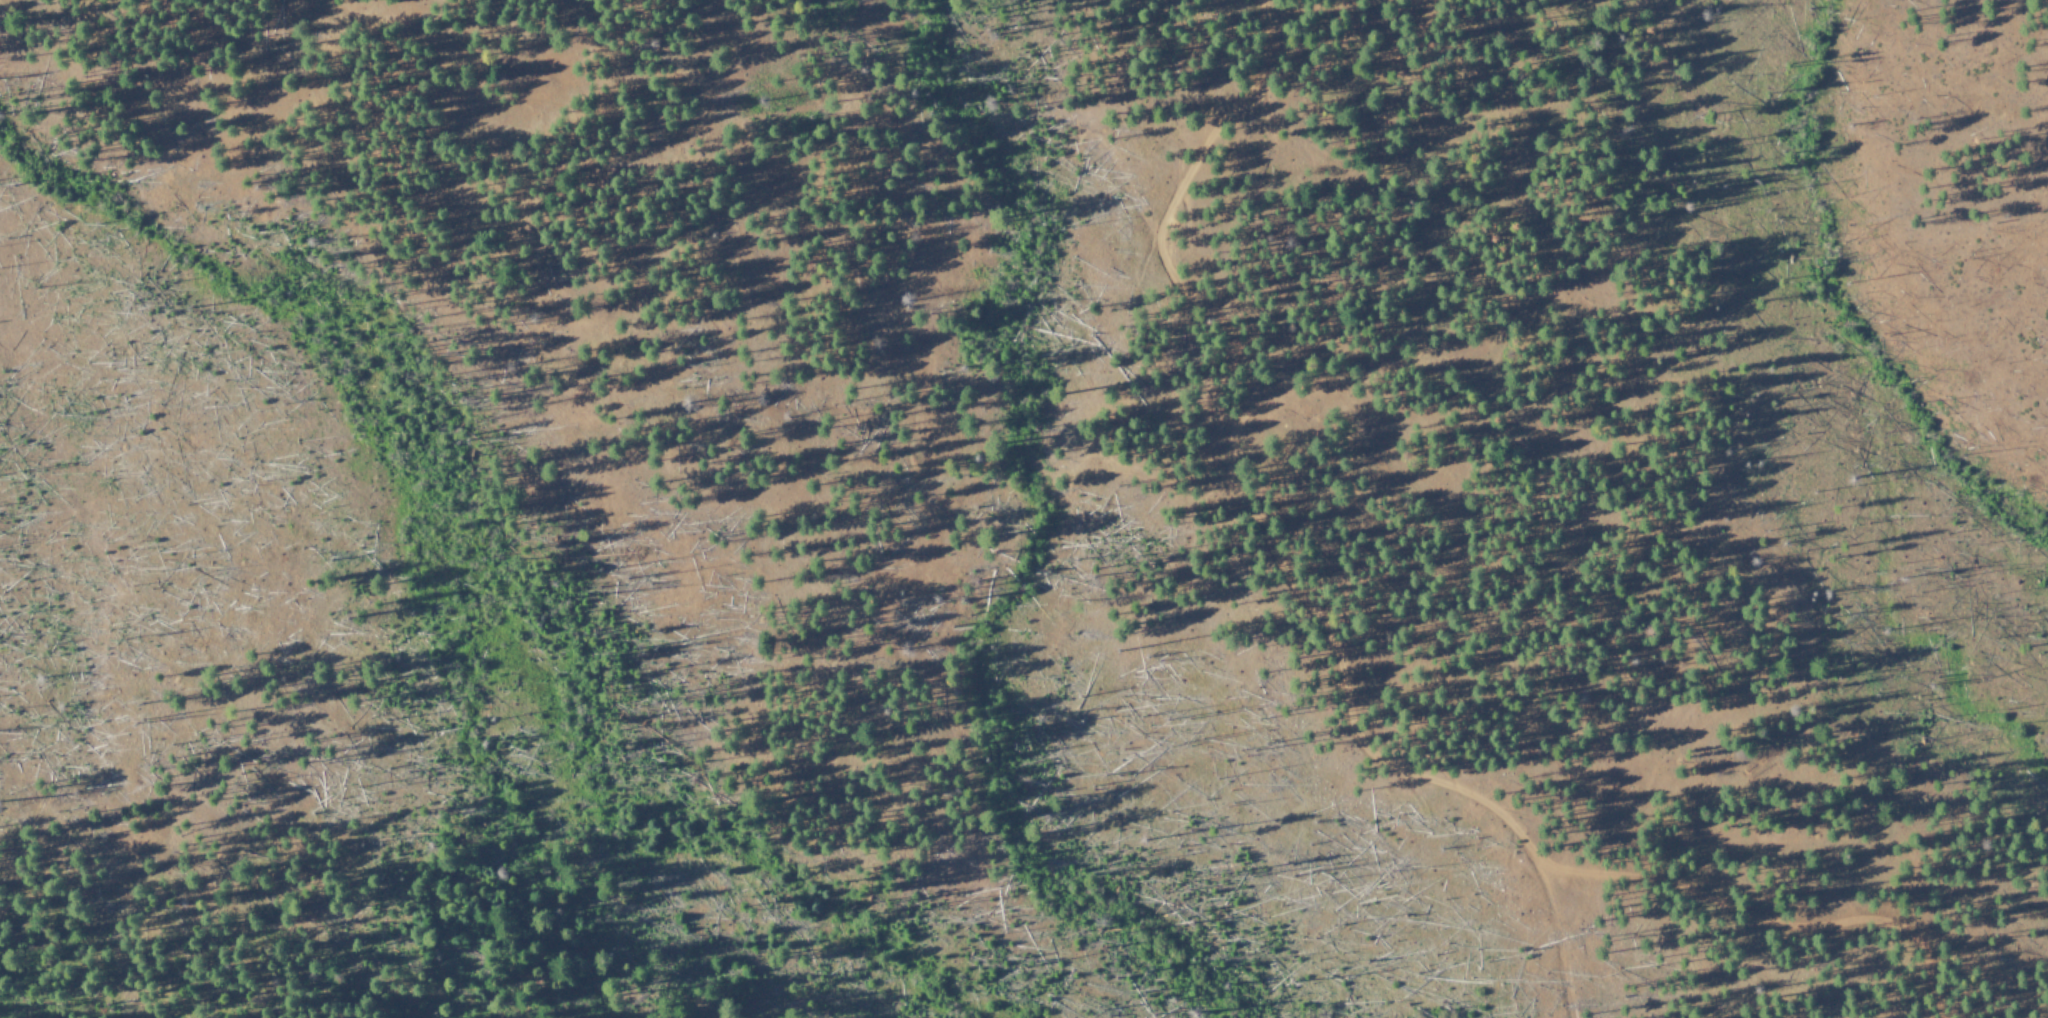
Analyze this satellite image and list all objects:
road: (1315, 540)

